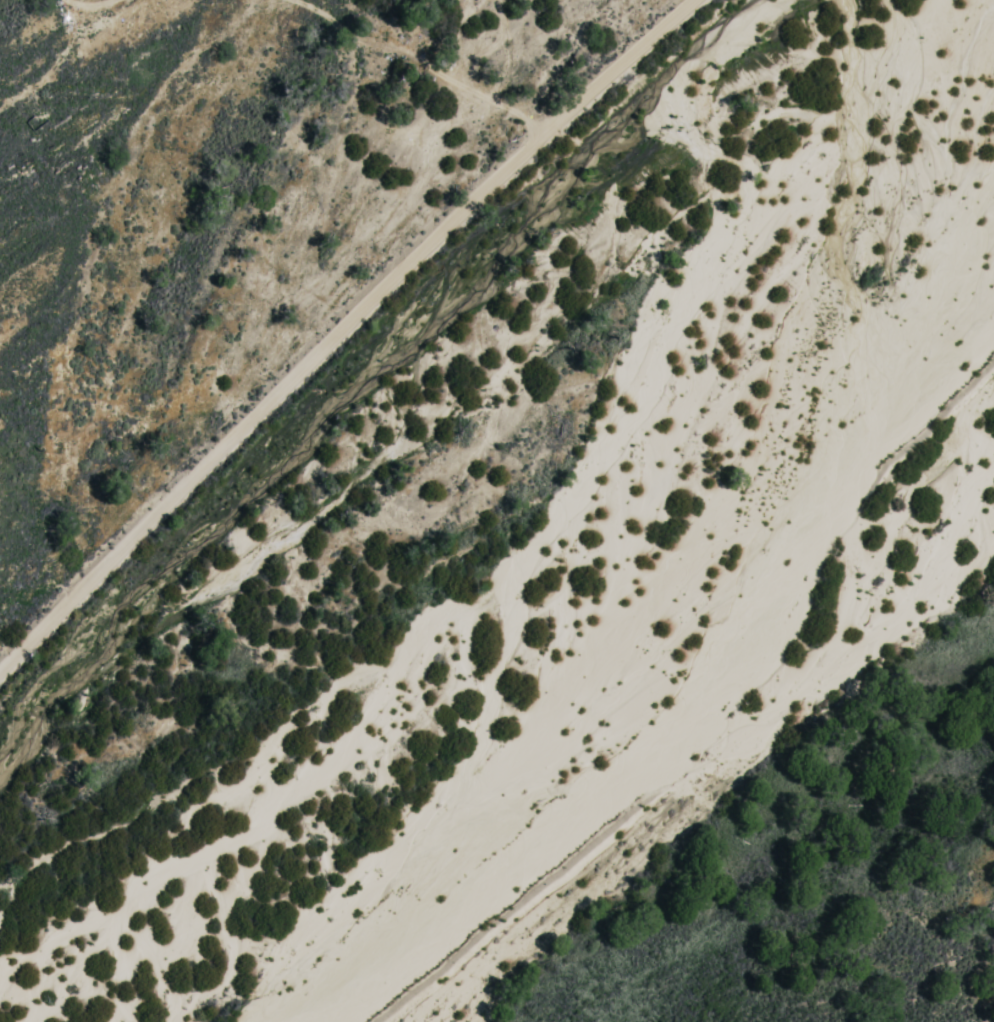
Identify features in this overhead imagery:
river: (795, 845)

